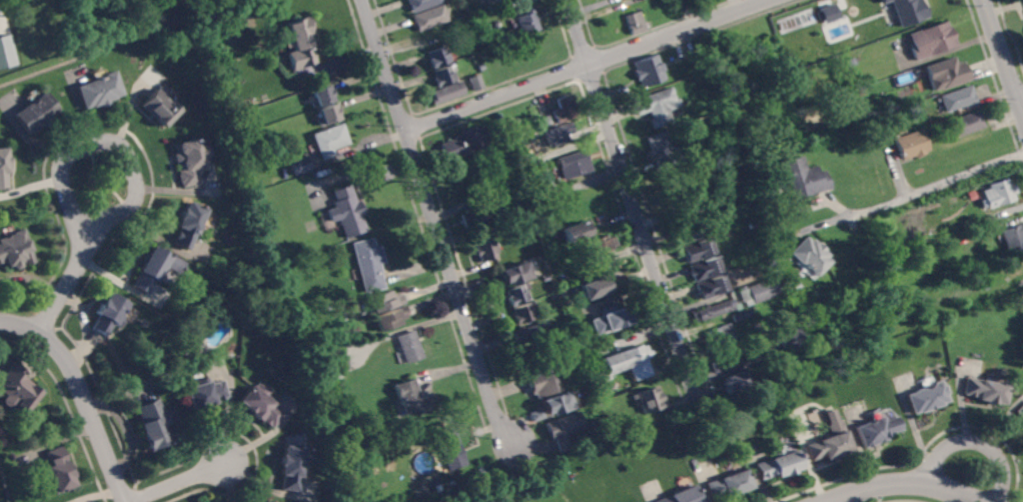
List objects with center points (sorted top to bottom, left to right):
building: (496, 0)
building: (883, 0)
building: (420, 4)
building: (501, 10)
building: (908, 11)
building: (829, 12)
building: (429, 17)
building: (527, 21)
building: (635, 24)
building: (469, 39)
building: (933, 41)
building: (300, 44)
building: (6, 51)
road: (1004, 54)
building: (437, 57)
building: (852, 62)
road: (587, 65)
building: (481, 68)
building: (650, 71)
building: (946, 73)
building: (443, 76)
building: (476, 83)
building: (99, 91)
building: (447, 92)
building: (319, 96)
building: (959, 99)
road: (1021, 99)
building: (658, 106)
building: (160, 109)
building: (564, 110)
building: (36, 113)
building: (326, 114)
building: (546, 120)
building: (966, 124)
building: (568, 128)
building: (942, 132)
building: (330, 141)
building: (465, 143)
building: (912, 144)
building: (662, 149)
building: (190, 160)
building: (299, 166)
building: (574, 166)
road: (62, 168)
building: (530, 168)
building: (4, 169)
building: (803, 177)
building: (276, 180)
building: (678, 185)
road: (630, 193)
building: (998, 193)
road: (920, 194)
building: (255, 198)
building: (347, 212)
building: (474, 217)
building: (752, 225)
building: (188, 226)
road: (436, 226)
building: (574, 231)
building: (692, 232)
building: (1013, 238)
building: (602, 246)
building: (749, 248)
building: (16, 250)
building: (487, 250)
building: (698, 250)
building: (812, 256)
building: (368, 264)
building: (559, 264)
building: (705, 268)
building: (155, 269)
building: (1013, 270)
building: (516, 274)
building: (547, 278)
building: (595, 287)
building: (711, 287)
building: (765, 289)
building: (517, 295)
building: (384, 301)
building: (713, 311)
building: (108, 314)
building: (523, 314)
building: (744, 314)
building: (390, 318)
building: (611, 321)
building: (529, 334)
building: (719, 337)
building: (788, 337)
building: (760, 345)
building: (409, 346)
building: (632, 357)
building: (729, 361)
building: (336, 362)
building: (604, 365)
building: (733, 382)
building: (541, 383)
building: (17, 389)
building: (985, 391)
road: (81, 394)
building: (204, 395)
building: (927, 397)
building: (414, 398)
building: (648, 399)
building: (557, 403)
building: (261, 407)
building: (1020, 412)
building: (538, 415)
building: (1022, 423)
building: (153, 425)
building: (565, 429)
building: (877, 430)
road: (975, 439)
building: (830, 440)
building: (450, 449)
building: (778, 464)
building: (291, 469)
building: (59, 470)
road: (180, 481)
road: (903, 483)
building: (728, 485)
building: (681, 496)
building: (272, 501)

